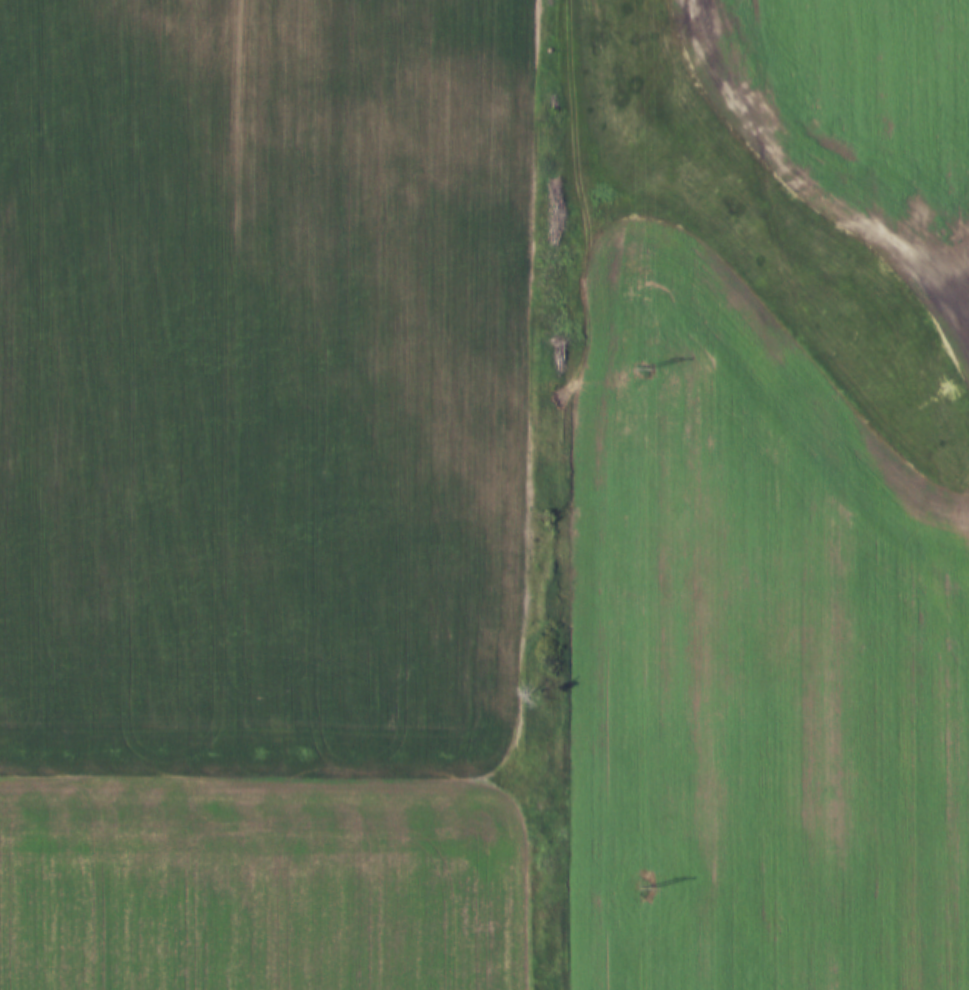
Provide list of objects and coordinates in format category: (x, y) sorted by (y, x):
power tower: (640, 366)
power tower: (644, 886)

